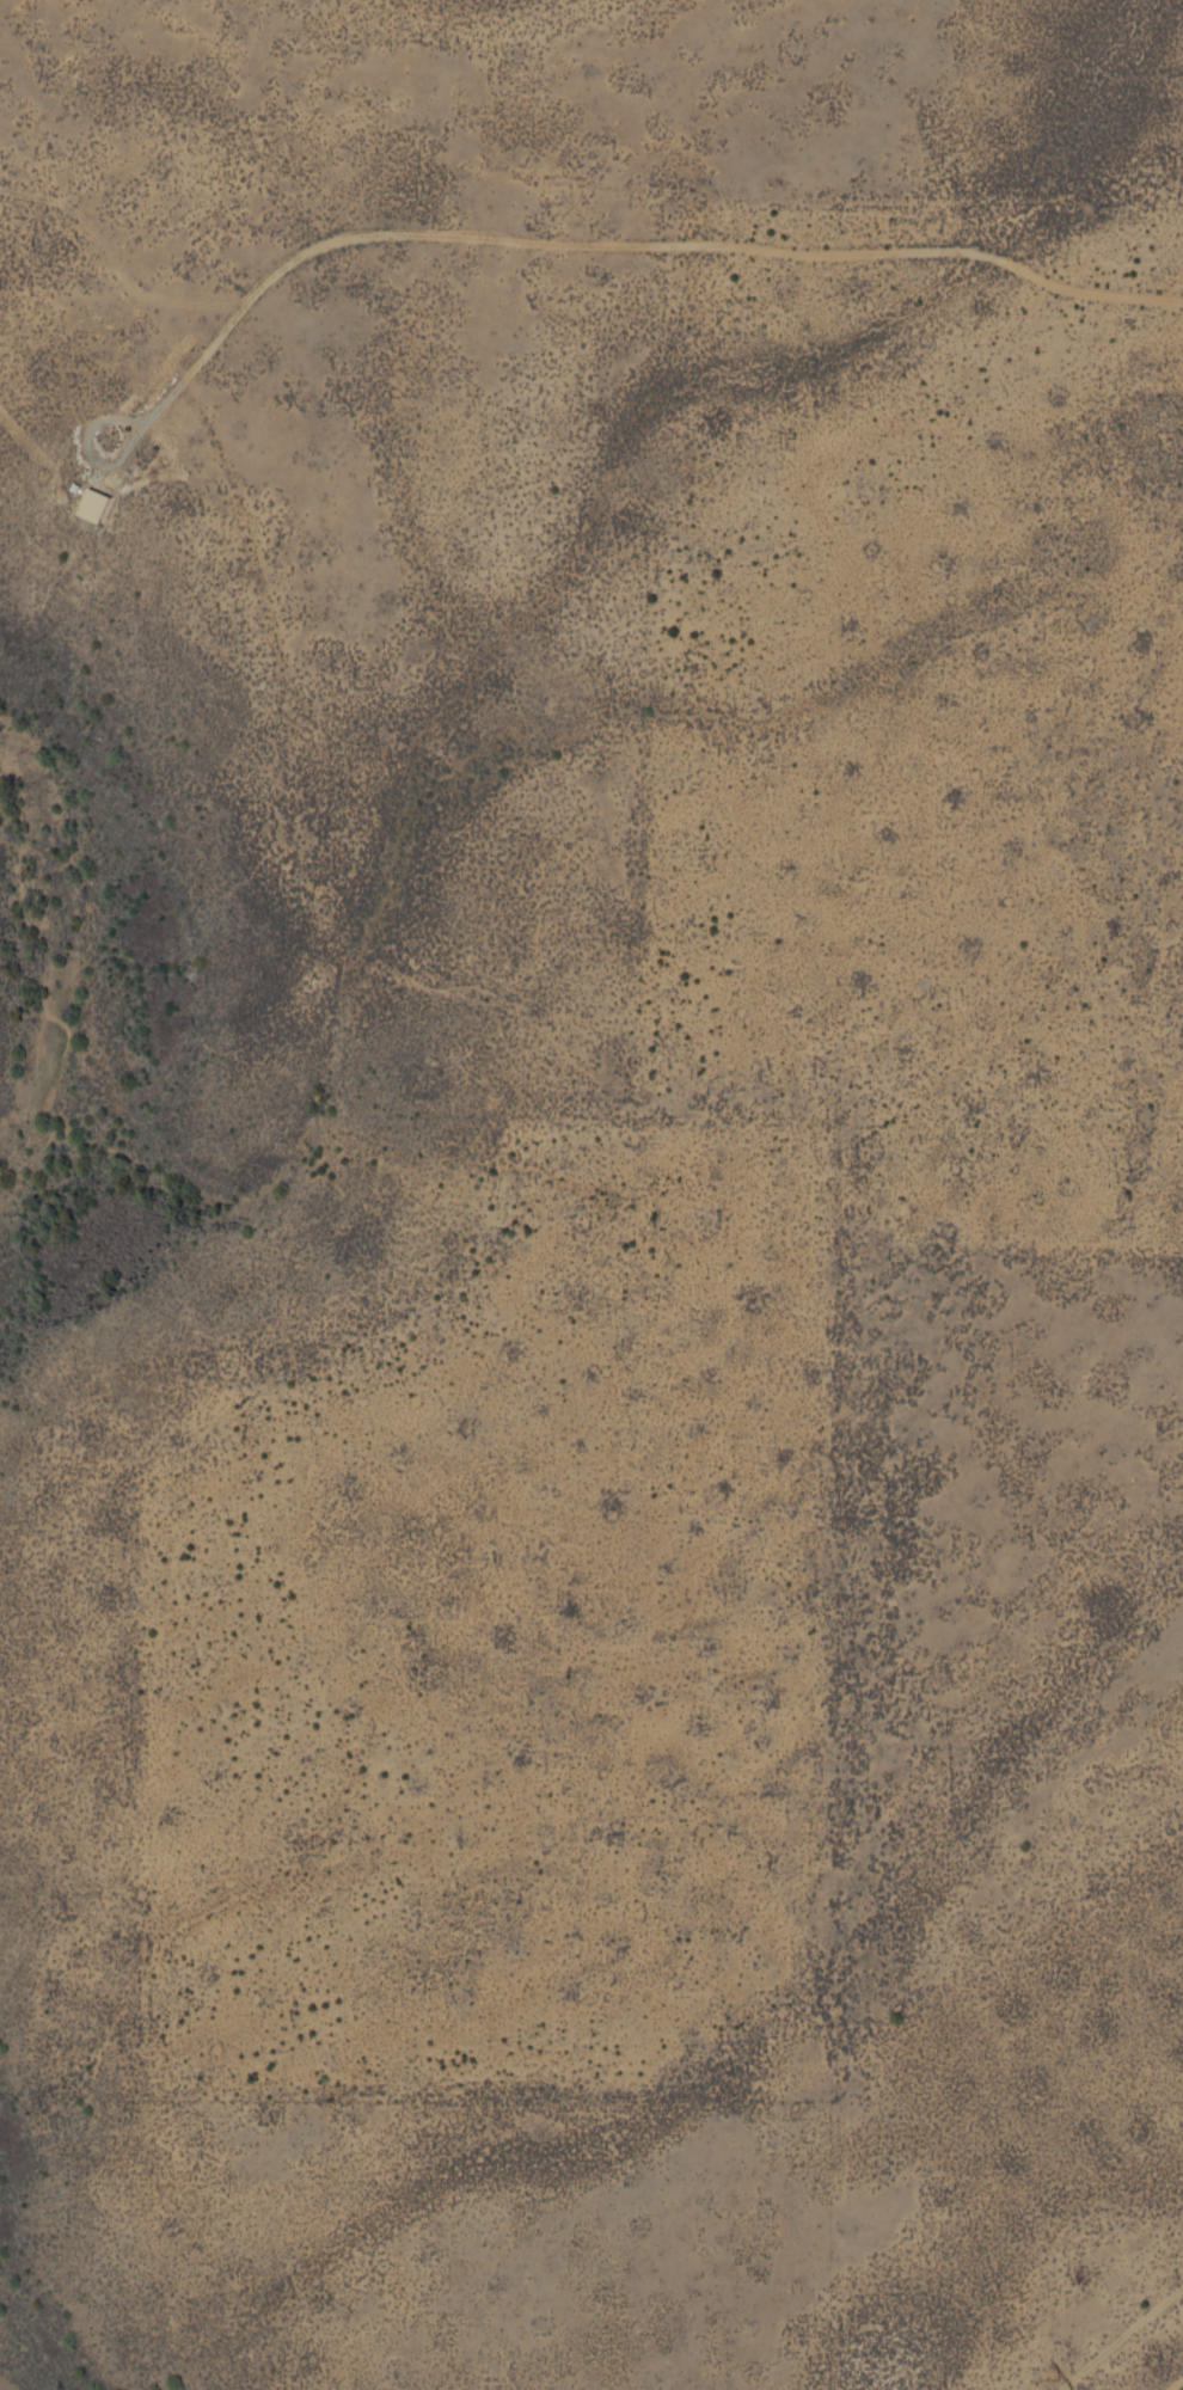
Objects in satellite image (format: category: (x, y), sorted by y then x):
power tower: (1069, 2389)

